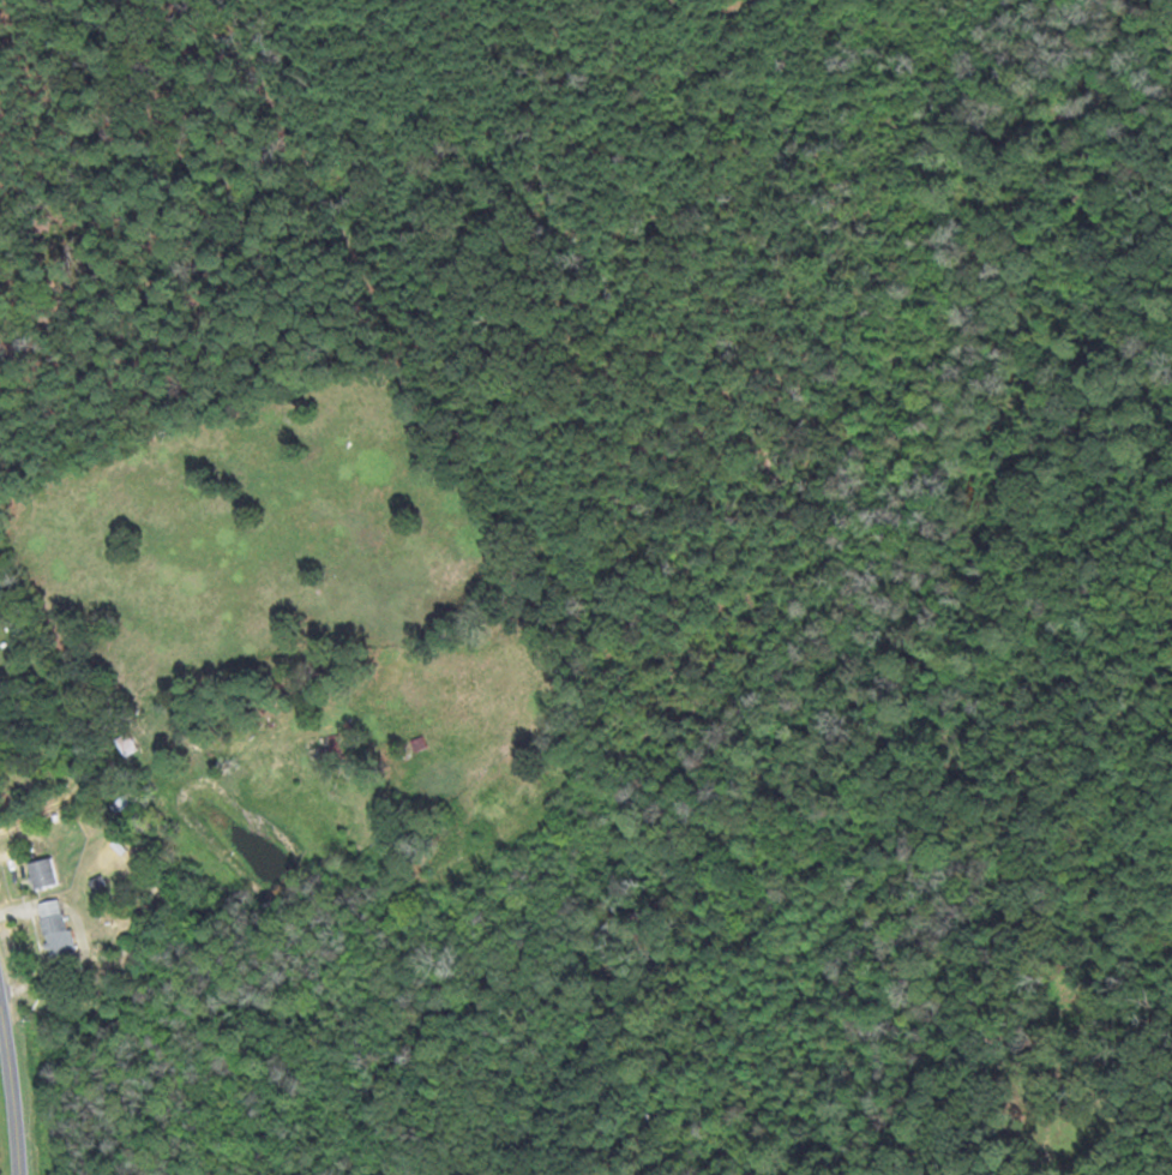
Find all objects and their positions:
building: (128, 743)
building: (331, 745)
building: (125, 802)
building: (46, 871)
building: (58, 925)
road: (14, 1080)

